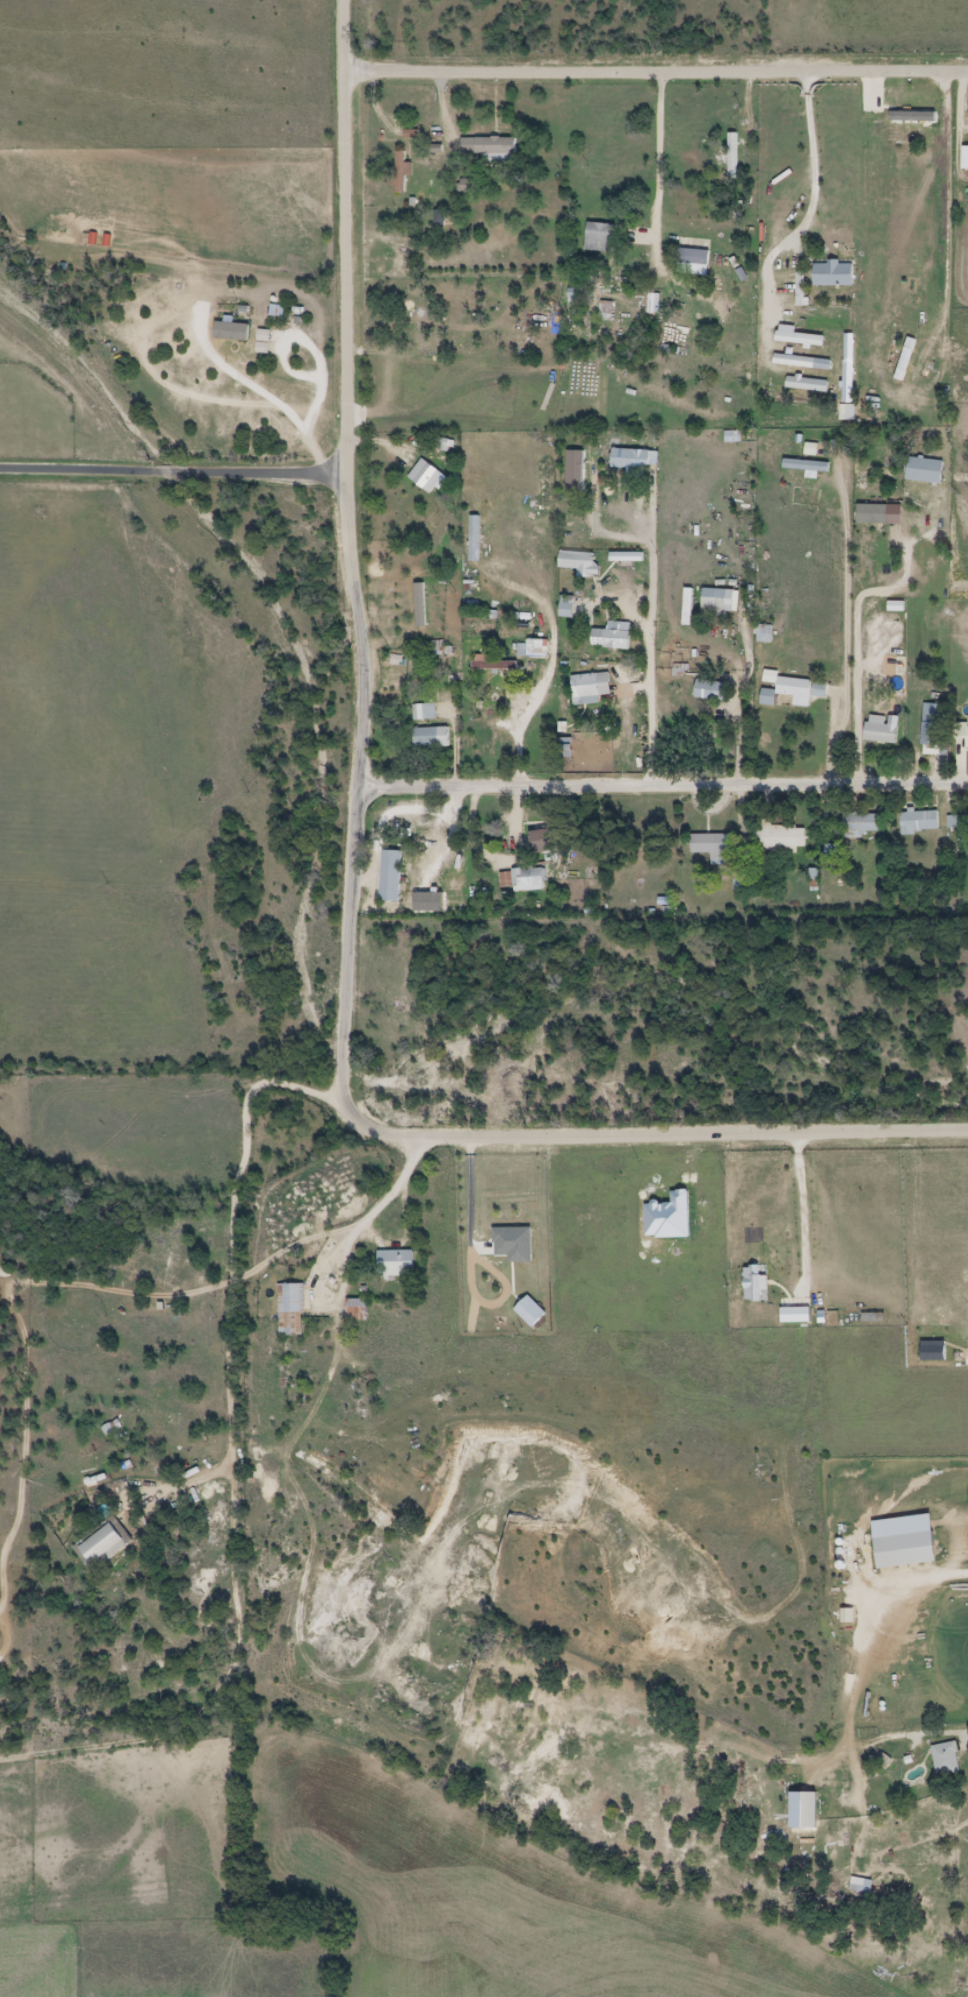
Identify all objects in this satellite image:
road: (656, 69)
building: (886, 95)
building: (886, 112)
building: (884, 135)
building: (488, 147)
road: (662, 157)
building: (965, 159)
building: (402, 166)
road: (816, 197)
road: (346, 236)
building: (600, 238)
building: (693, 257)
building: (833, 274)
building: (879, 334)
building: (800, 339)
building: (905, 360)
building: (802, 363)
building: (849, 369)
building: (807, 385)
road: (268, 401)
building: (630, 459)
building: (806, 466)
road: (174, 470)
building: (925, 472)
building: (426, 477)
building: (881, 513)
building: (595, 543)
building: (579, 563)
building: (715, 602)
building: (420, 606)
building: (688, 607)
road: (847, 625)
building: (764, 635)
building: (613, 637)
road: (651, 640)
road: (857, 648)
building: (537, 650)
building: (591, 687)
building: (711, 691)
building: (819, 691)
building: (789, 693)
building: (425, 713)
road: (520, 725)
building: (932, 725)
building: (880, 731)
building: (432, 738)
building: (961, 738)
road: (664, 786)
building: (406, 811)
building: (919, 822)
building: (860, 823)
building: (779, 838)
building: (544, 841)
building: (712, 845)
building: (391, 877)
building: (528, 880)
road: (344, 1104)
road: (248, 1137)
road: (805, 1206)
building: (395, 1264)
road: (319, 1278)
building: (291, 1310)
building: (357, 1311)
road: (21, 1327)
building: (105, 1543)
building: (906, 1551)
road: (239, 1605)
road: (856, 1682)
building: (946, 1761)
building: (804, 1812)
building: (861, 1887)

